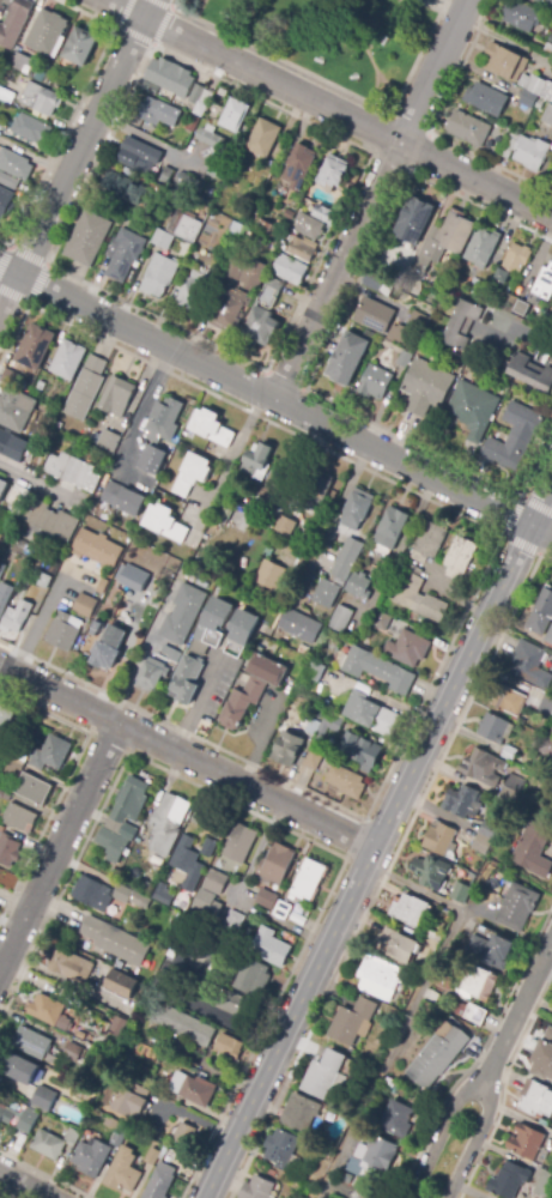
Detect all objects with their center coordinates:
building: (545, 2)
building: (522, 16)
building: (14, 23)
building: (48, 31)
park: (336, 37)
building: (551, 38)
road: (145, 41)
building: (81, 47)
building: (548, 49)
building: (22, 61)
building: (504, 62)
building: (170, 77)
building: (53, 80)
road: (332, 84)
building: (536, 86)
building: (150, 89)
building: (196, 93)
building: (6, 96)
building: (41, 99)
building: (486, 99)
building: (528, 99)
building: (540, 105)
road: (329, 108)
building: (200, 109)
road: (73, 111)
building: (157, 111)
building: (236, 115)
building: (547, 116)
building: (0, 123)
building: (468, 128)
building: (31, 129)
building: (211, 137)
road: (85, 138)
road: (144, 138)
building: (263, 139)
building: (526, 151)
building: (139, 157)
building: (14, 165)
building: (299, 167)
building: (217, 171)
building: (333, 173)
building: (168, 174)
building: (551, 174)
building: (183, 180)
building: (8, 182)
building: (129, 190)
road: (371, 199)
building: (151, 202)
building: (6, 204)
building: (326, 214)
building: (414, 220)
building: (184, 226)
building: (309, 226)
building: (266, 229)
building: (87, 238)
building: (162, 240)
building: (439, 247)
building: (186, 248)
building: (481, 248)
building: (303, 249)
building: (123, 254)
building: (515, 262)
building: (236, 267)
road: (44, 270)
building: (291, 270)
road: (10, 271)
building: (255, 273)
building: (158, 276)
building: (378, 283)
building: (542, 288)
building: (479, 289)
building: (194, 290)
road: (8, 294)
building: (506, 301)
building: (228, 309)
building: (522, 309)
building: (375, 315)
building: (265, 316)
building: (547, 322)
building: (463, 325)
road: (516, 331)
building: (410, 332)
building: (36, 347)
road: (323, 350)
building: (347, 358)
building: (68, 359)
building: (405, 359)
road: (263, 370)
building: (532, 373)
building: (42, 377)
building: (375, 382)
building: (426, 387)
building: (86, 388)
building: (117, 398)
road: (274, 398)
building: (16, 403)
building: (471, 410)
building: (163, 419)
road: (265, 419)
road: (139, 423)
building: (211, 428)
building: (514, 437)
building: (109, 441)
building: (11, 446)
building: (152, 459)
building: (257, 461)
building: (73, 471)
building: (192, 474)
road: (34, 478)
building: (2, 488)
building: (316, 491)
building: (231, 494)
building: (20, 498)
building: (123, 500)
road: (342, 508)
building: (357, 510)
building: (279, 513)
road: (511, 519)
building: (50, 520)
building: (165, 524)
building: (289, 526)
road: (541, 530)
building: (390, 531)
building: (1, 541)
building: (429, 543)
building: (97, 550)
building: (460, 557)
building: (405, 558)
building: (2, 569)
building: (338, 574)
building: (271, 575)
building: (133, 579)
building: (43, 581)
building: (359, 587)
building: (417, 595)
building: (5, 597)
building: (87, 601)
building: (542, 613)
building: (182, 615)
building: (17, 618)
building: (340, 618)
building: (380, 623)
building: (212, 627)
building: (299, 627)
building: (97, 628)
building: (62, 633)
building: (242, 633)
building: (550, 637)
building: (109, 648)
building: (408, 648)
building: (171, 655)
building: (530, 665)
building: (378, 670)
building: (314, 671)
building: (152, 674)
building: (298, 679)
building: (187, 680)
building: (253, 689)
building: (511, 702)
road: (198, 704)
building: (546, 706)
building: (372, 715)
building: (6, 726)
building: (311, 727)
building: (328, 727)
building: (495, 728)
building: (551, 732)
building: (547, 748)
building: (289, 749)
building: (510, 752)
building: (51, 754)
building: (365, 754)
road: (186, 757)
building: (314, 760)
building: (14, 766)
building: (483, 767)
road: (66, 780)
building: (346, 781)
building: (515, 782)
building: (34, 789)
building: (5, 795)
building: (508, 795)
building: (463, 801)
building: (19, 817)
building: (123, 819)
building: (168, 824)
building: (489, 830)
road: (376, 837)
building: (439, 839)
building: (481, 843)
road: (59, 846)
building: (236, 846)
building: (208, 848)
building: (7, 849)
building: (534, 851)
road: (256, 853)
building: (187, 863)
building: (274, 865)
building: (114, 872)
building: (432, 873)
road: (383, 876)
building: (309, 879)
building: (216, 882)
building: (461, 893)
building: (92, 894)
building: (164, 896)
building: (133, 897)
building: (266, 900)
building: (207, 903)
building: (283, 908)
building: (518, 908)
building: (410, 910)
building: (233, 922)
building: (431, 936)
building: (226, 937)
building: (116, 942)
building: (204, 944)
building: (398, 945)
building: (432, 945)
building: (271, 946)
building: (491, 951)
building: (71, 966)
building: (253, 978)
building: (380, 979)
building: (480, 984)
building: (121, 985)
building: (169, 990)
building: (237, 1005)
road: (412, 1008)
building: (49, 1011)
road: (214, 1012)
road: (518, 1012)
building: (477, 1015)
building: (353, 1022)
building: (119, 1025)
building: (183, 1025)
building: (548, 1034)
building: (81, 1035)
building: (32, 1042)
building: (230, 1046)
building: (73, 1052)
building: (439, 1055)
building: (51, 1060)
building: (542, 1060)
building: (20, 1069)
building: (323, 1075)
building: (77, 1077)
building: (388, 1084)
building: (198, 1091)
building: (43, 1099)
building: (536, 1100)
building: (133, 1102)
building: (302, 1115)
building: (28, 1119)
building: (398, 1119)
road: (439, 1131)
building: (114, 1132)
building: (184, 1135)
building: (72, 1137)
road: (473, 1140)
building: (526, 1142)
building: (48, 1145)
building: (283, 1150)
building: (377, 1154)
building: (151, 1156)
building: (91, 1157)
building: (123, 1172)
building: (372, 1176)
building: (509, 1180)
road: (4, 1182)
building: (160, 1182)
road: (24, 1184)
building: (545, 1185)
building: (256, 1188)
building: (364, 1196)
road: (1, 1197)

